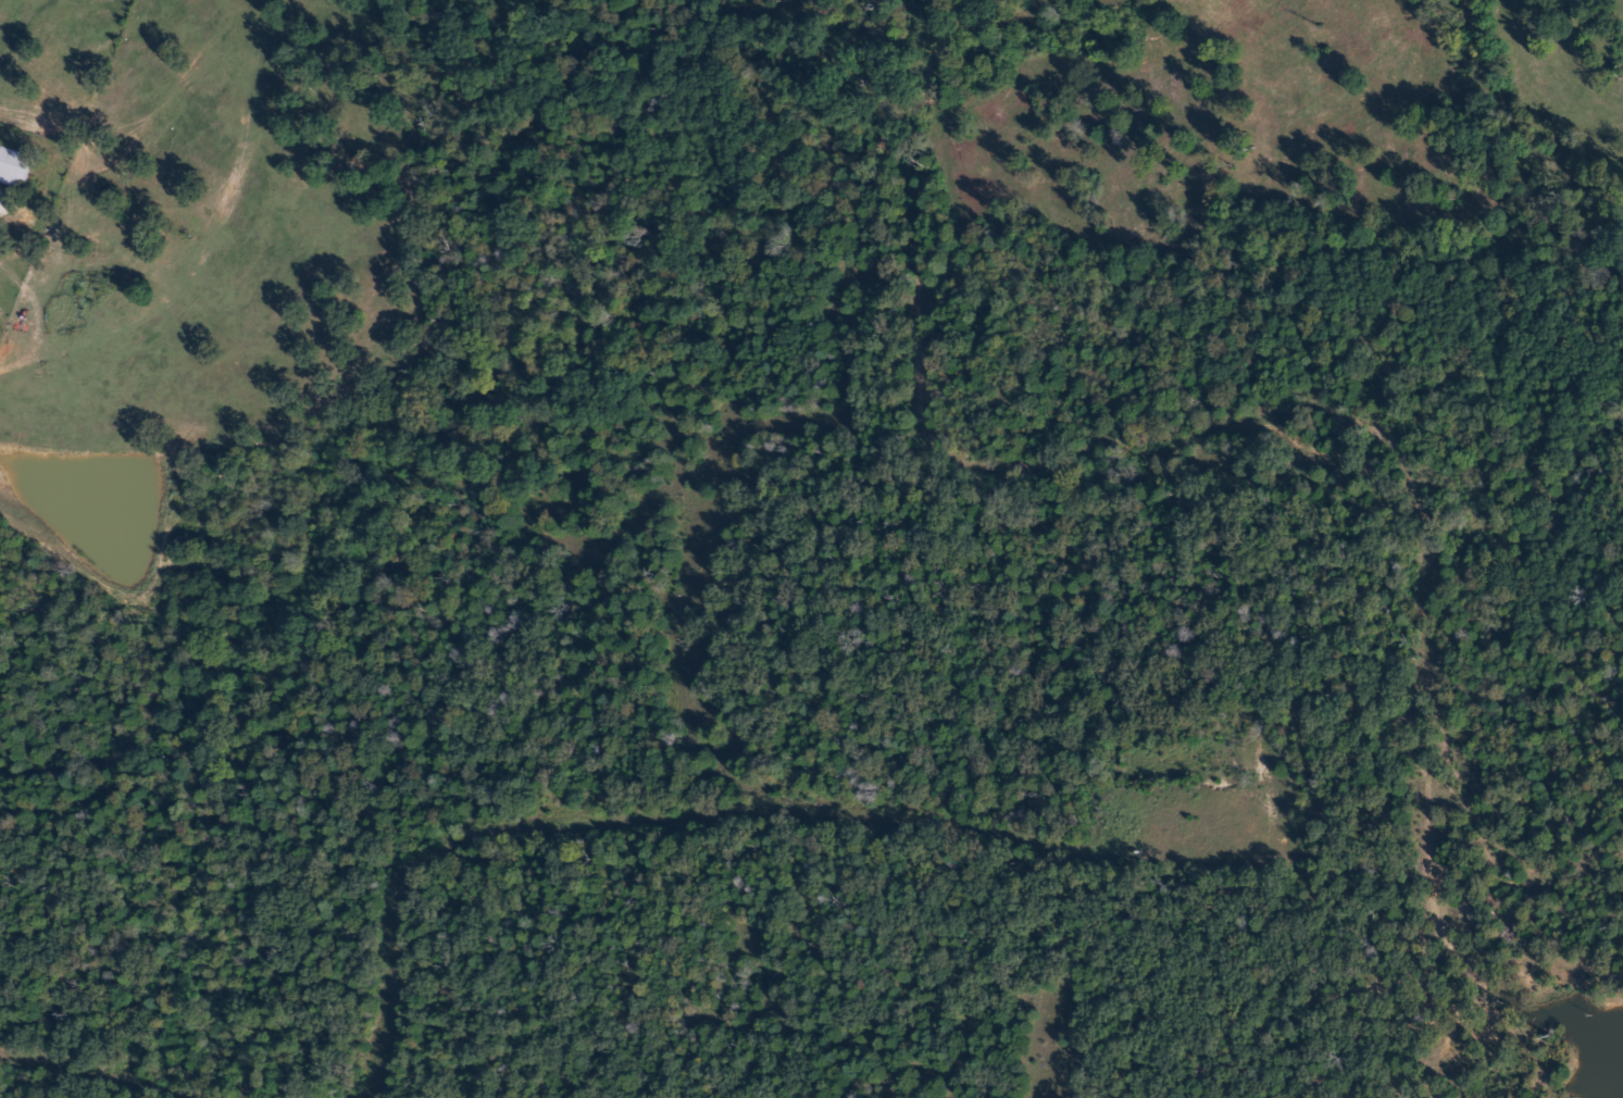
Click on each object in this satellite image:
building: (17, 166)

